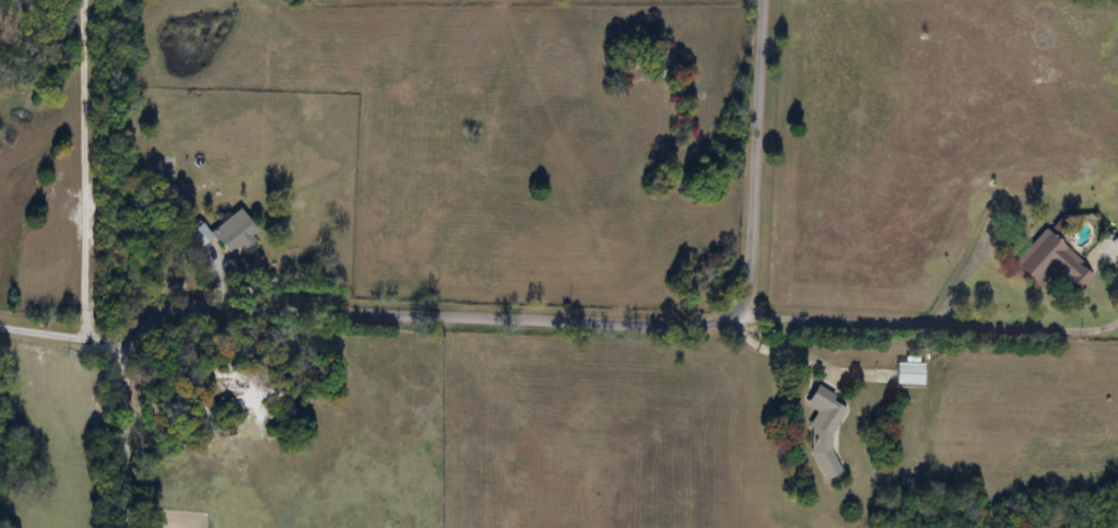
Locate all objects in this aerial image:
road: (82, 167)
building: (235, 233)
building: (199, 235)
building: (1051, 263)
road: (590, 322)
road: (929, 326)
road: (66, 336)
road: (777, 351)
building: (908, 375)
building: (823, 431)
road: (120, 434)

